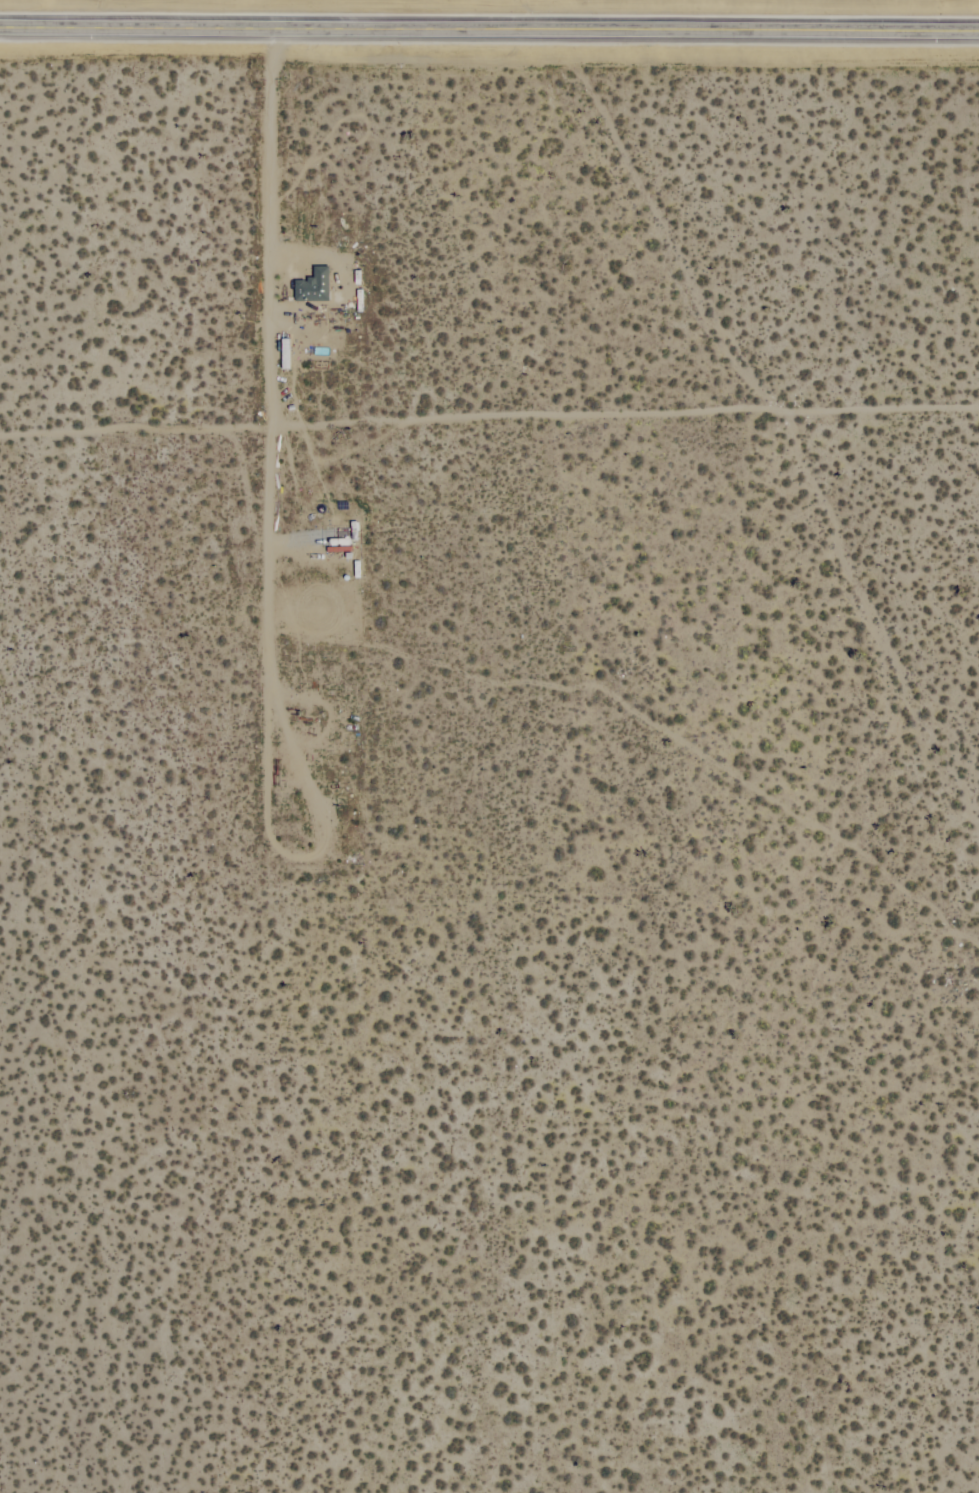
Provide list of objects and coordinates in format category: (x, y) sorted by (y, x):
road: (489, 27)
road: (268, 424)

